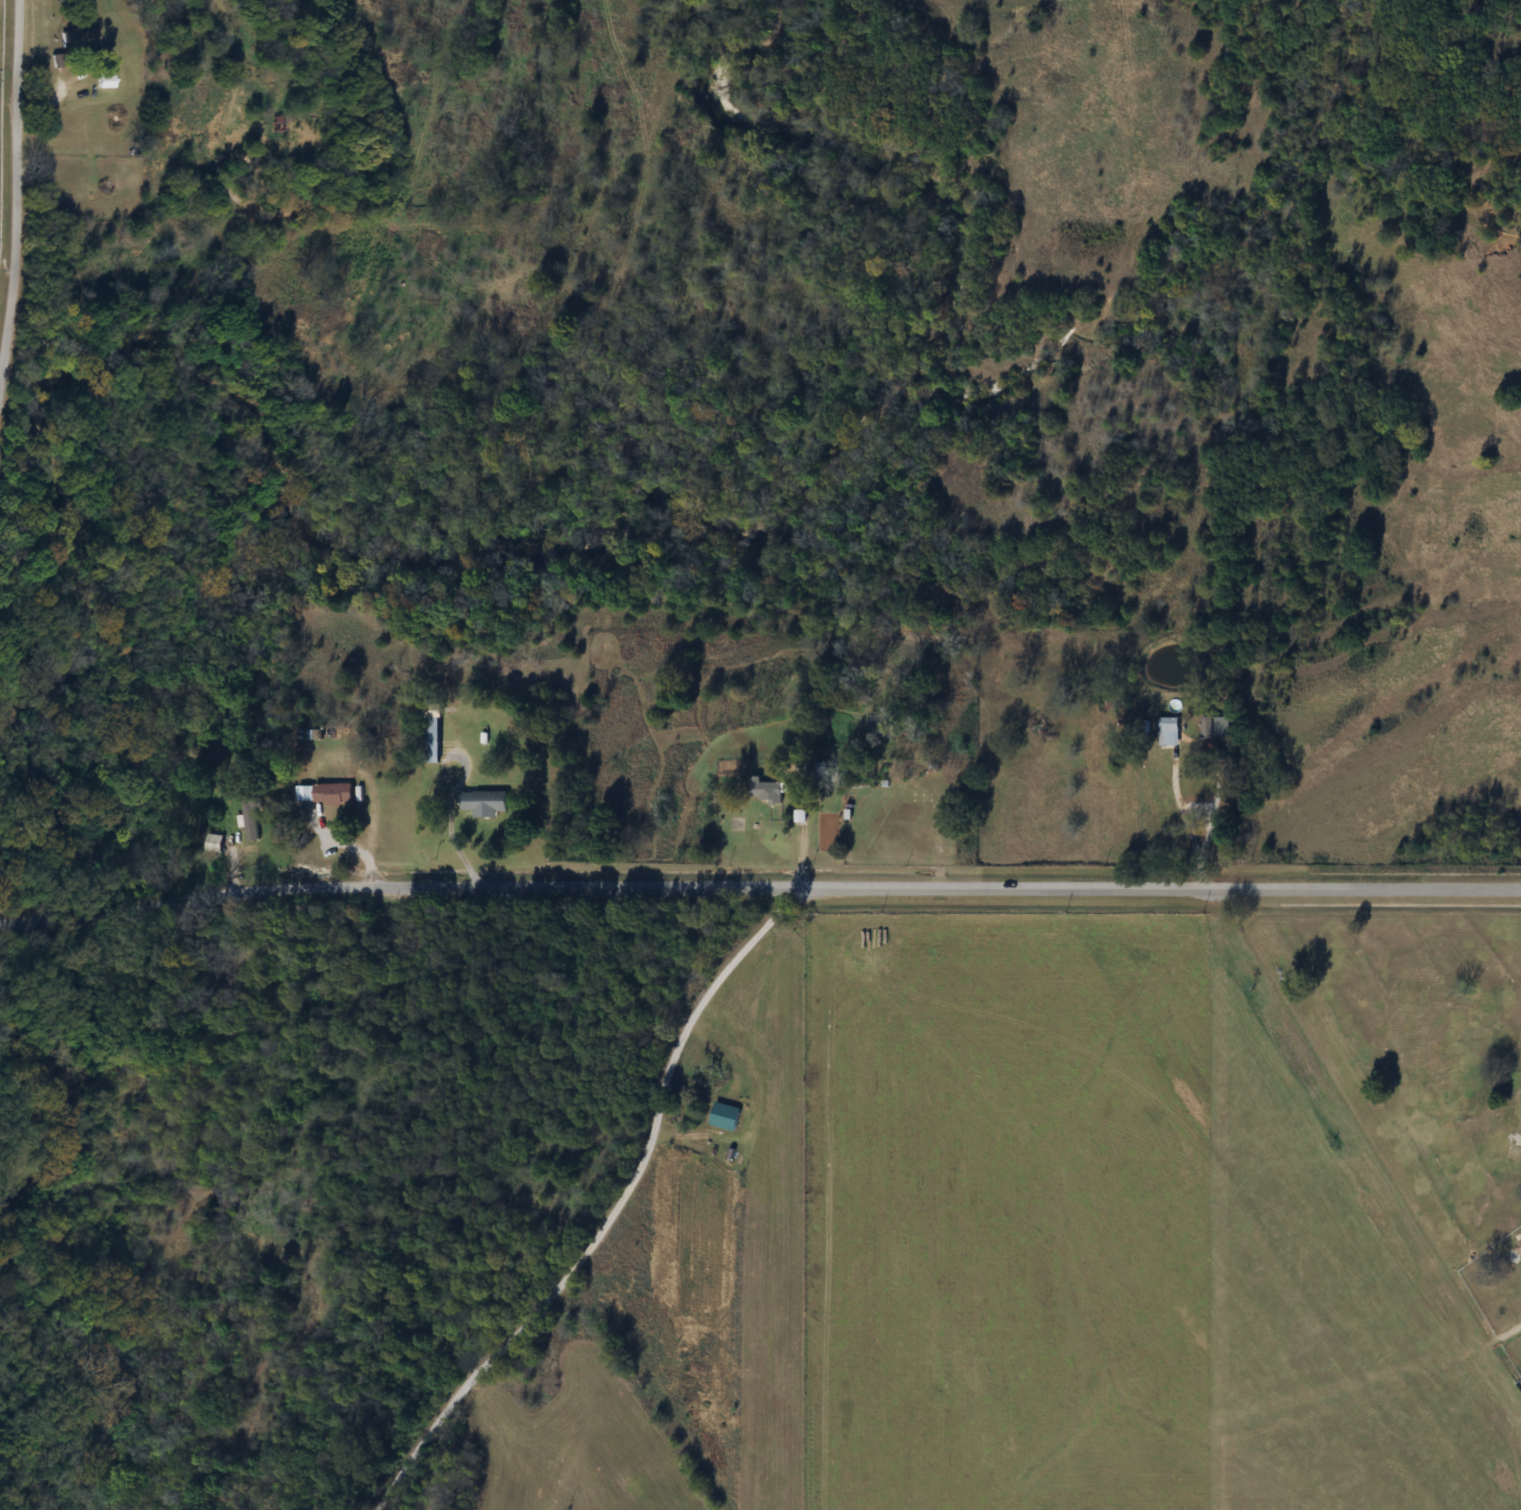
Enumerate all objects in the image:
building: (77, 39)
building: (104, 78)
road: (18, 197)
building: (1105, 705)
building: (1215, 727)
building: (1168, 731)
building: (431, 739)
building: (765, 790)
building: (323, 793)
building: (484, 803)
road: (1185, 825)
building: (214, 843)
road: (757, 888)
road: (616, 1214)

